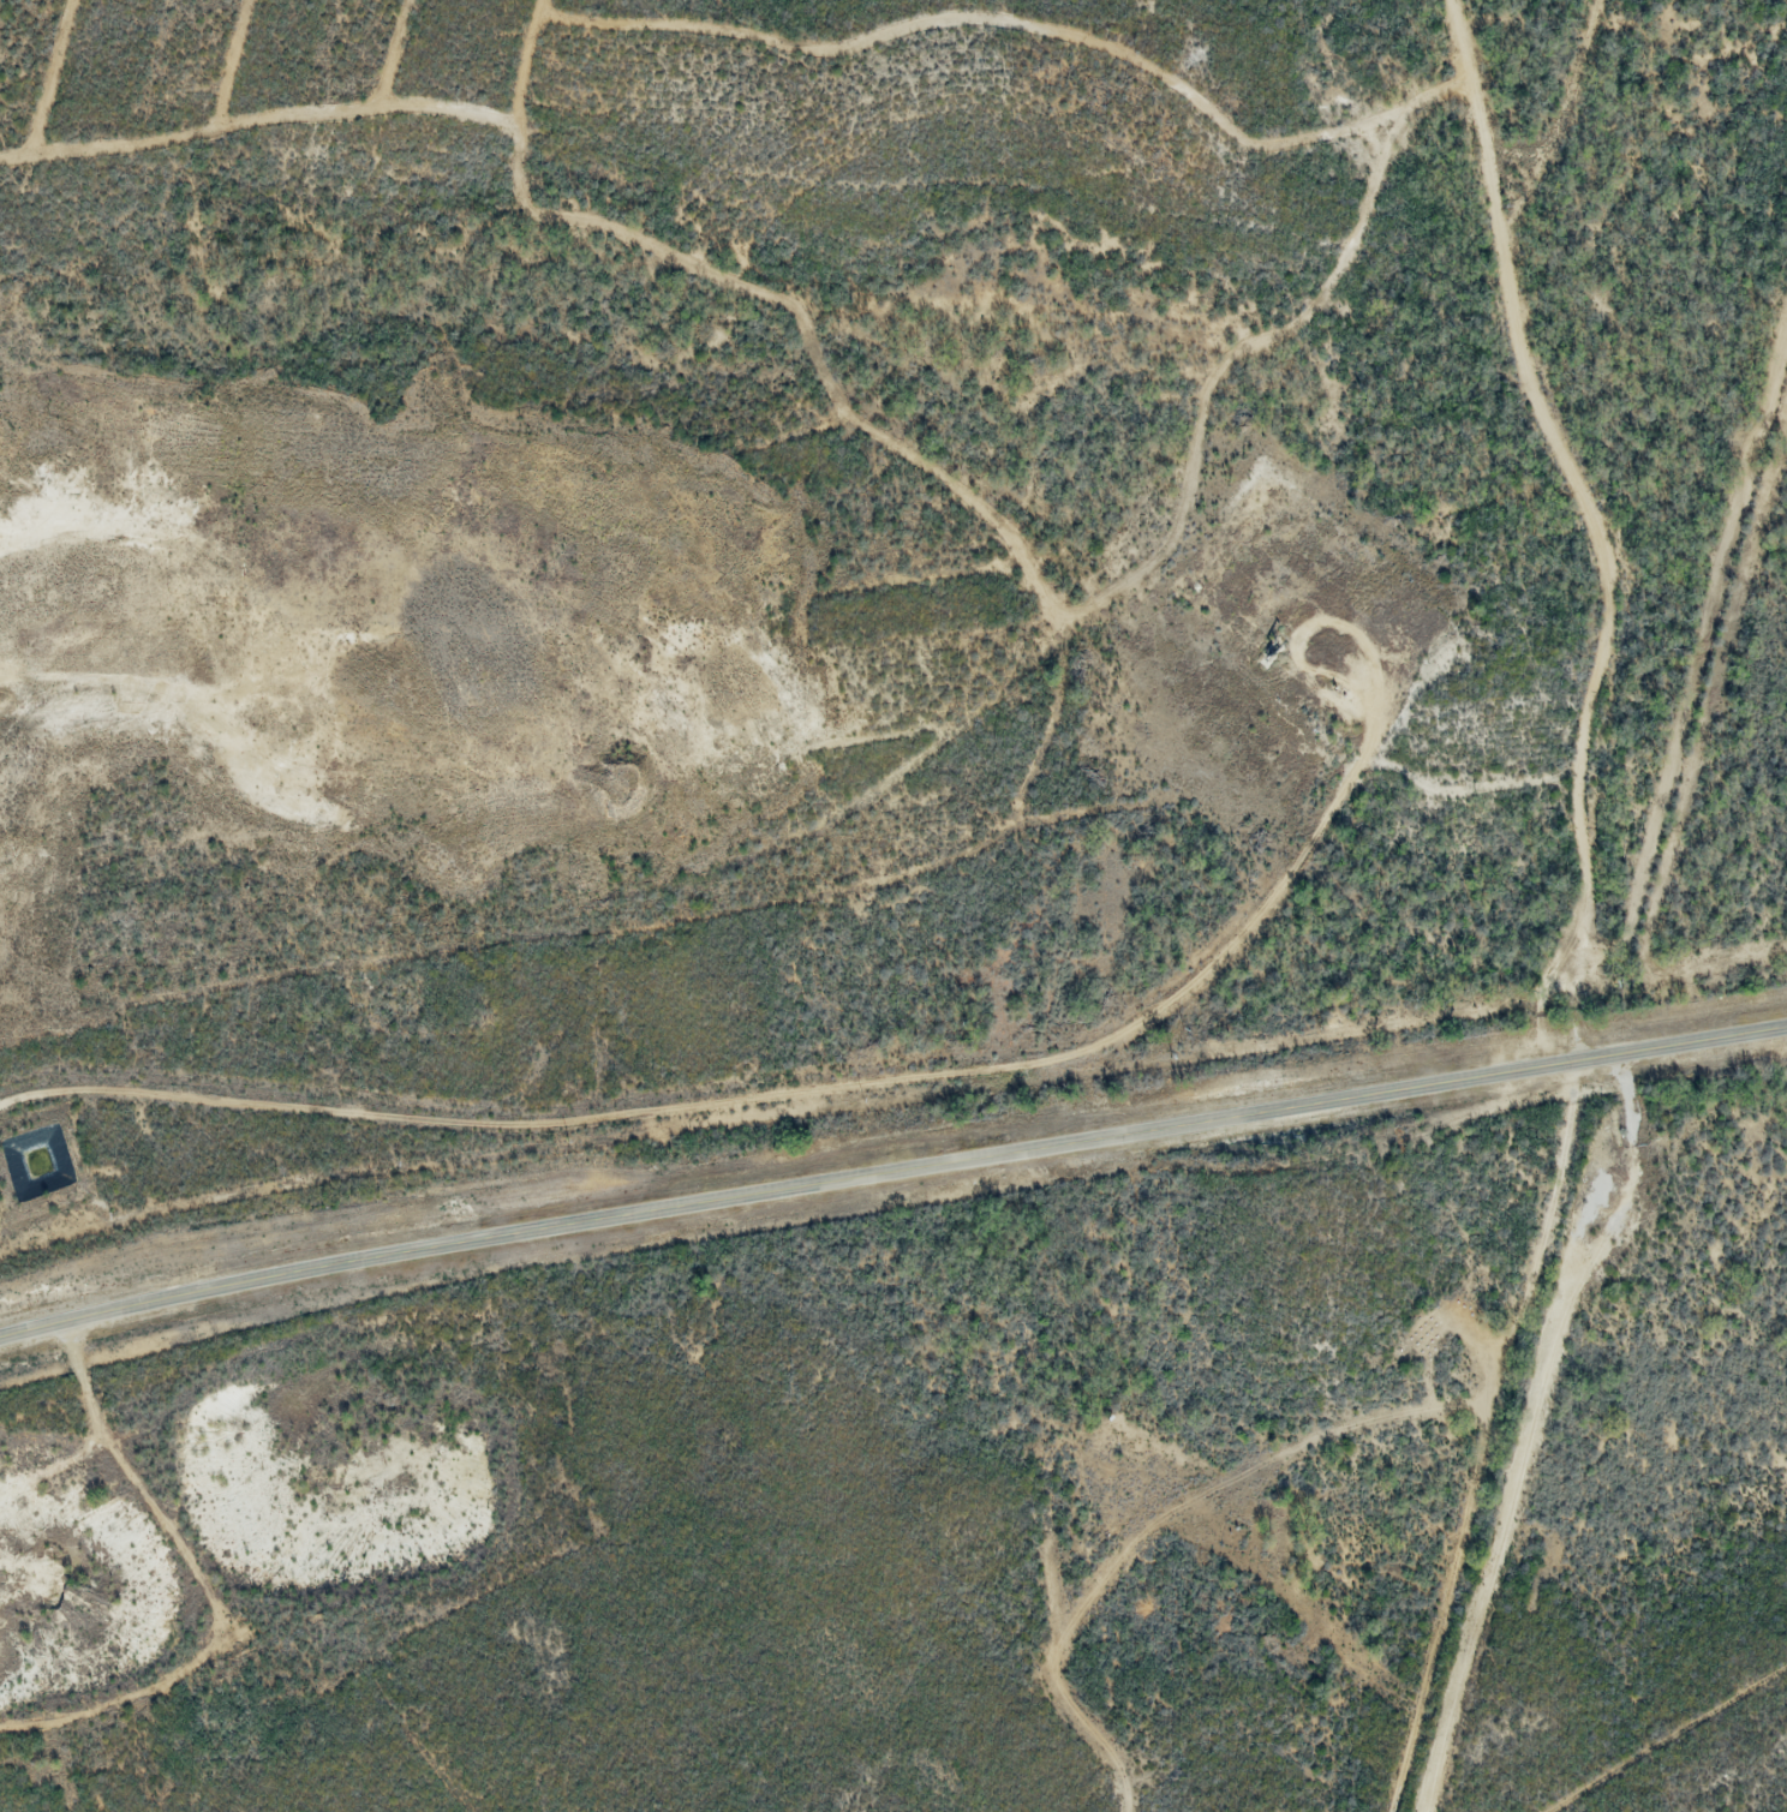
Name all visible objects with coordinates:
road: (1574, 150)
road: (1505, 246)
road: (1301, 537)
road: (891, 1172)
road: (1363, 1418)
road: (273, 1566)

